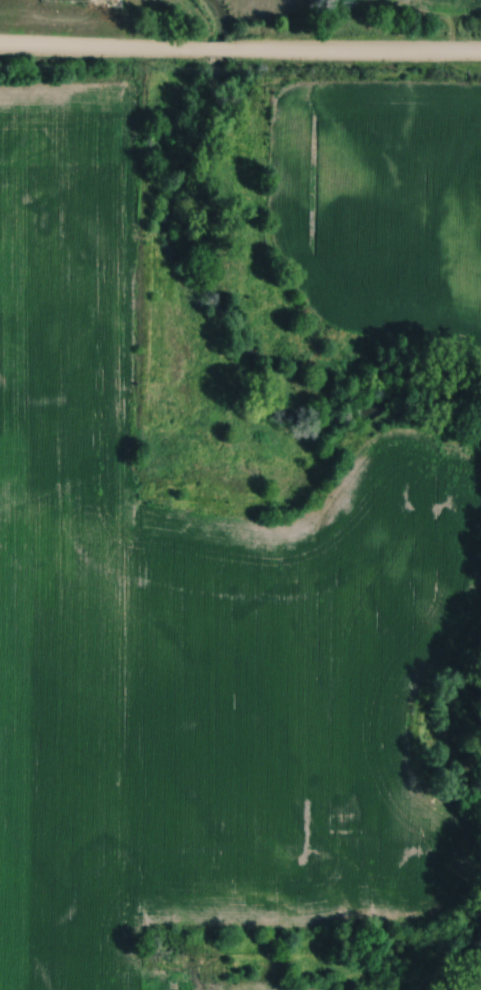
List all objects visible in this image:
road: (240, 51)

